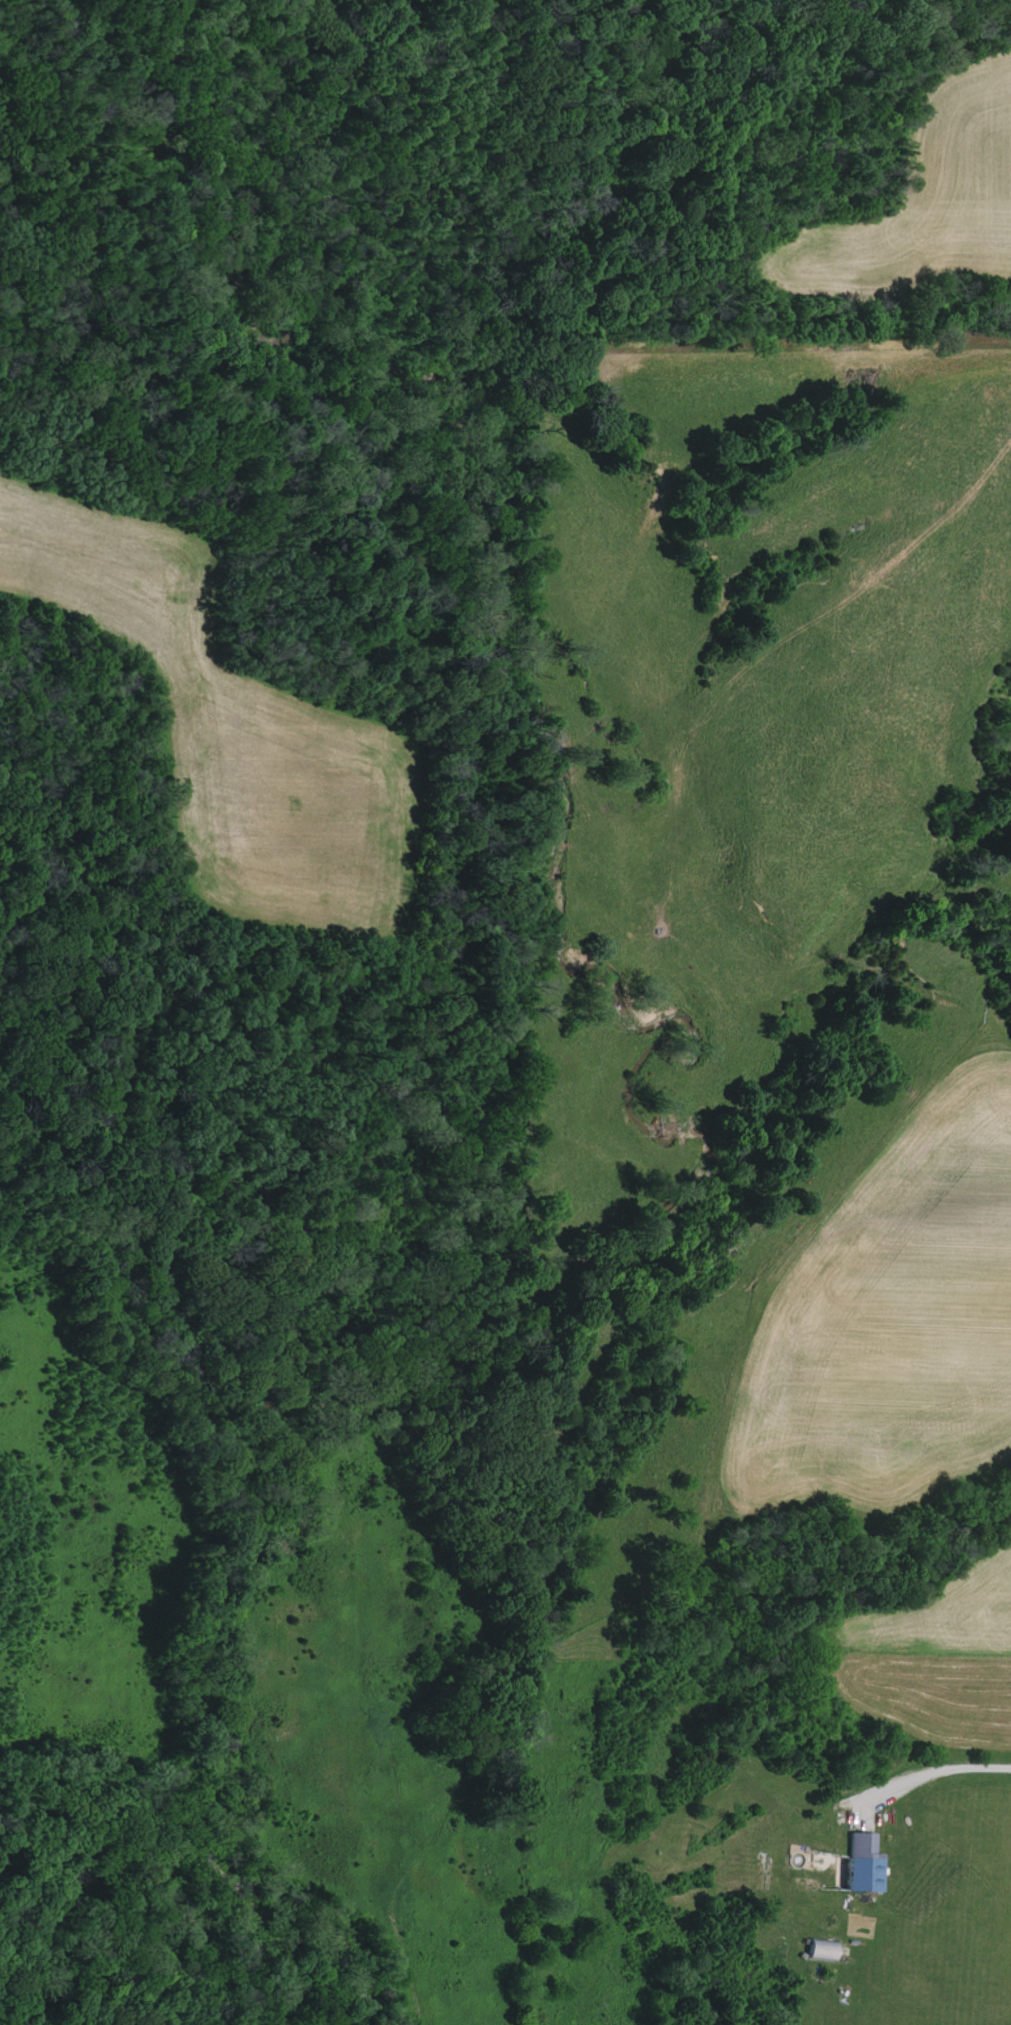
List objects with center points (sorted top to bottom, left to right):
road: (929, 1771)
building: (862, 1864)
building: (819, 1949)

